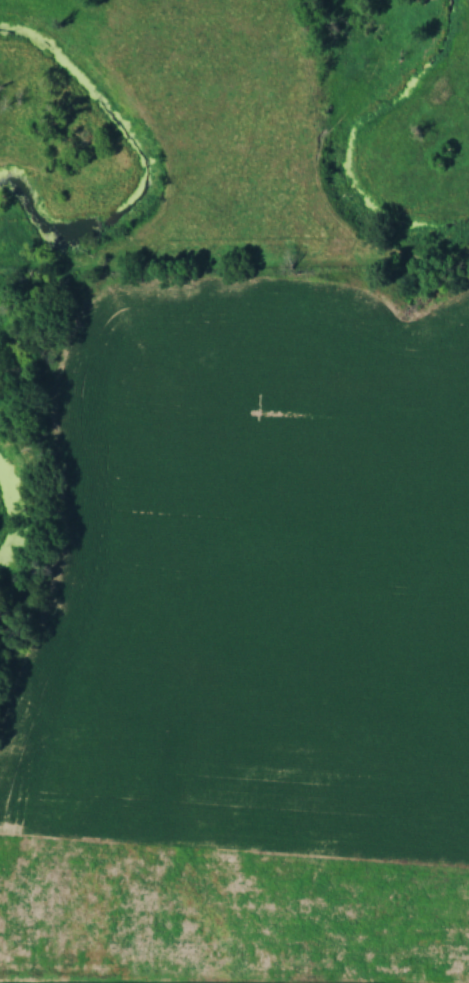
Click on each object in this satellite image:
river: (348, 137)
river: (143, 164)
river: (16, 515)

